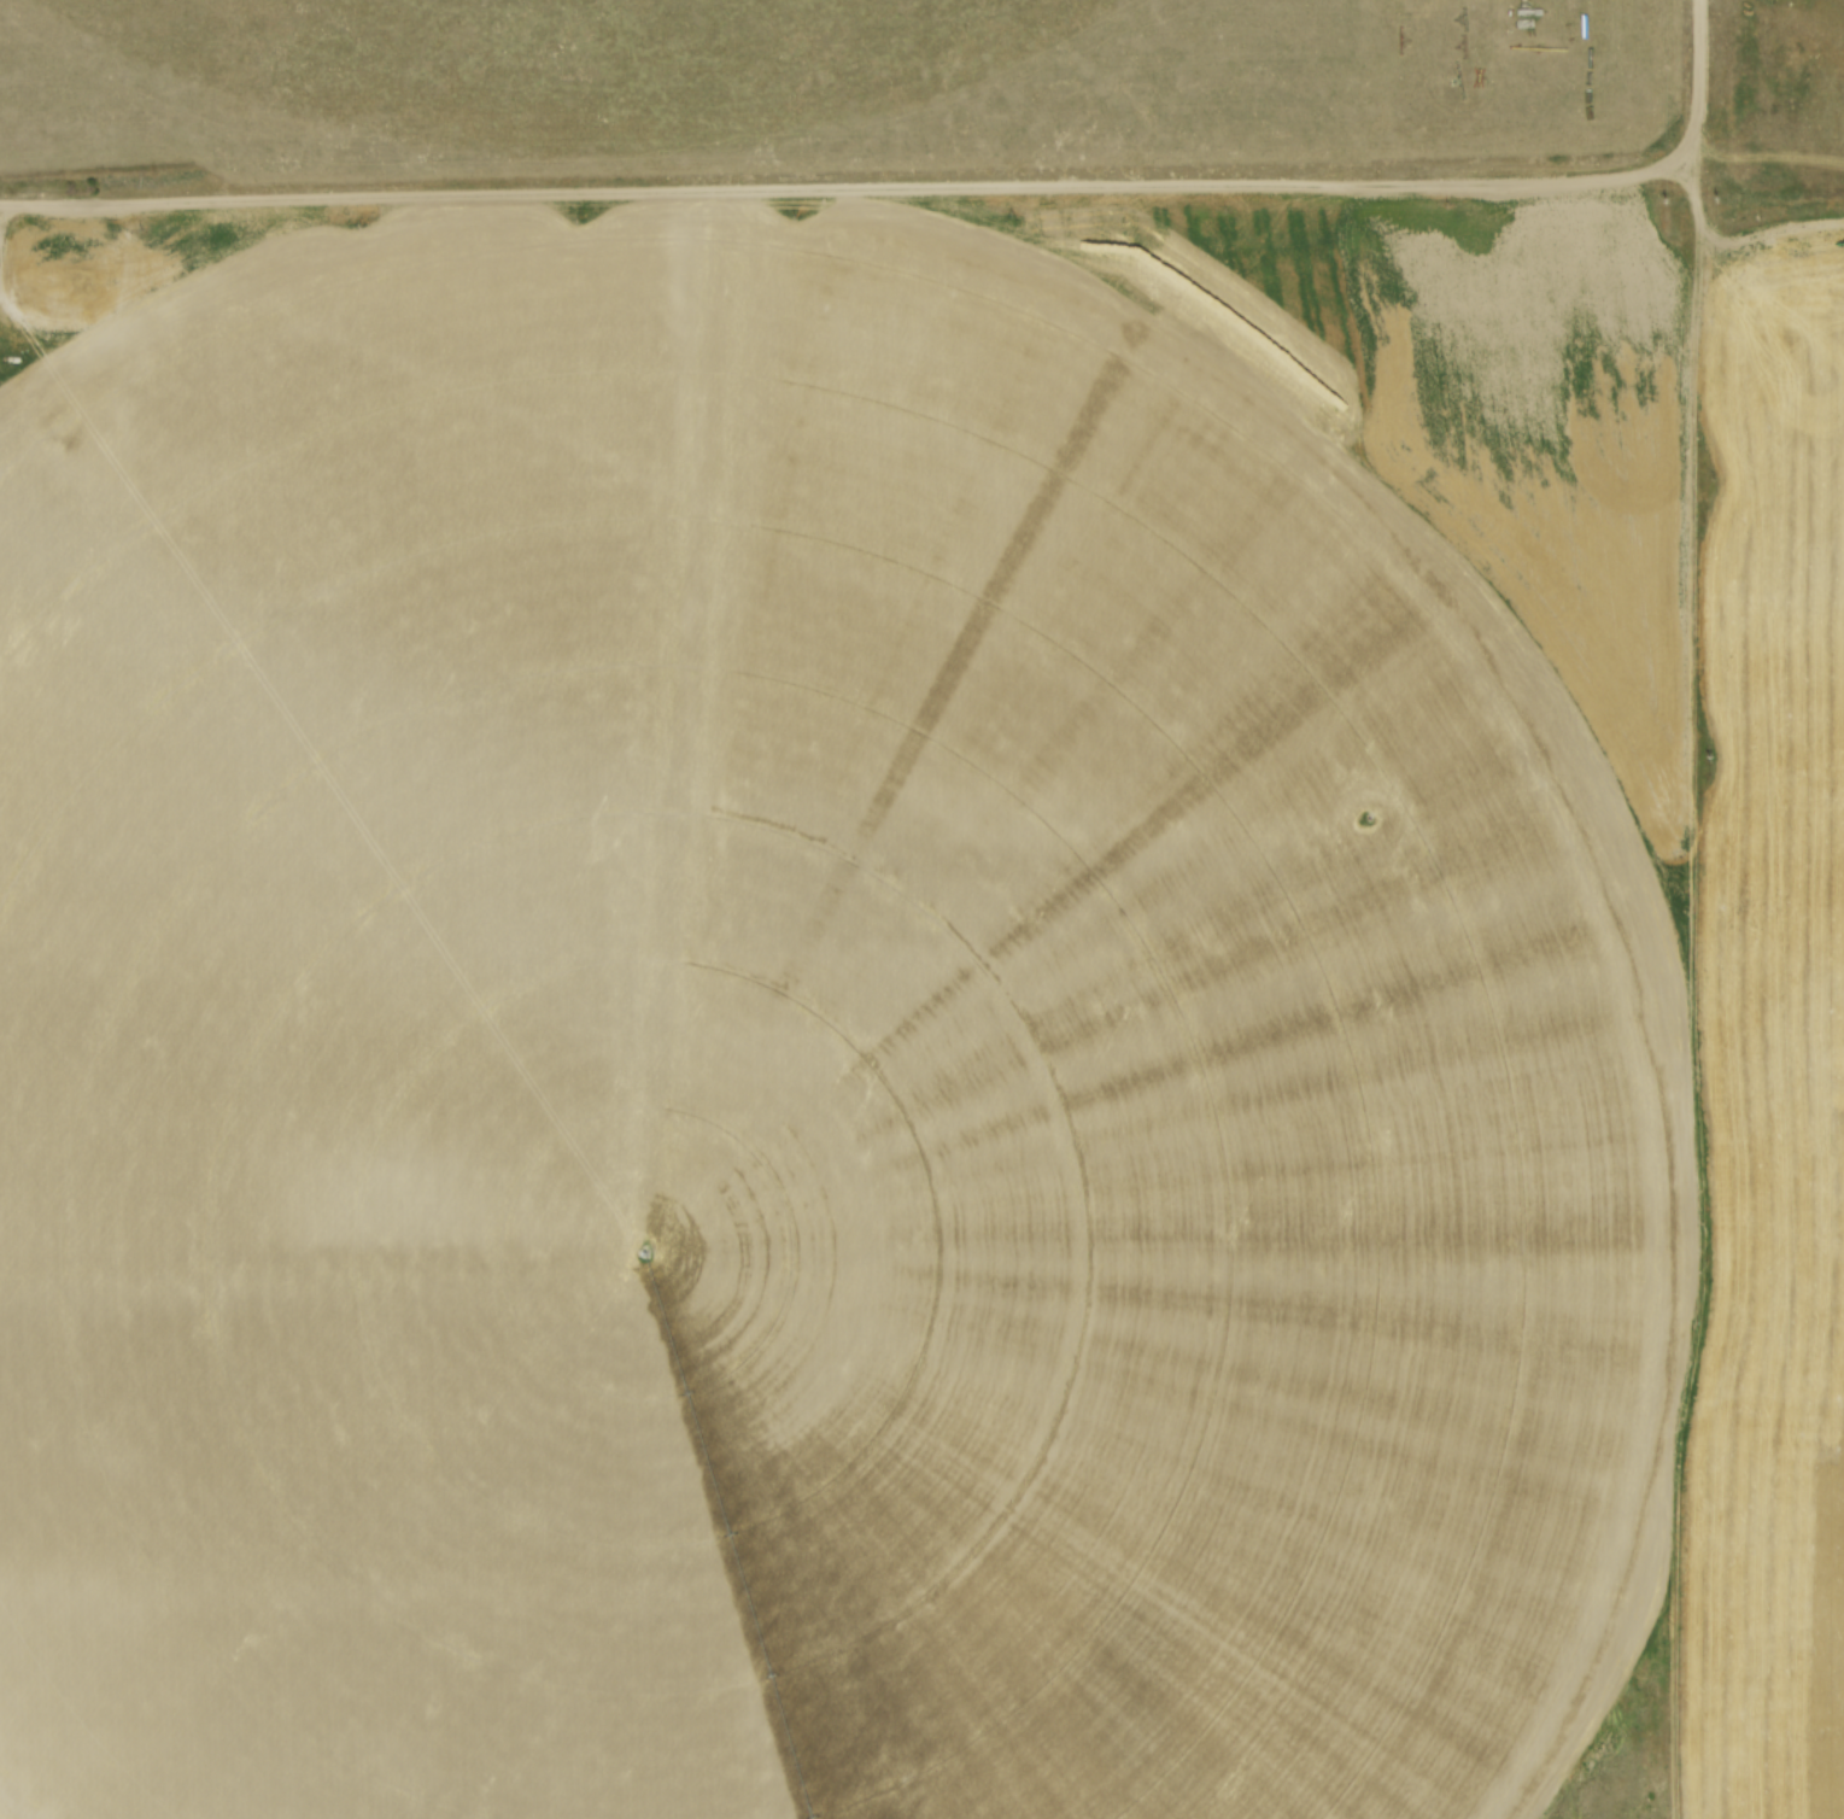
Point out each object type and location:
road: (1702, 66)
road: (859, 191)
building: (418, 537)
crop: (918, 1011)

